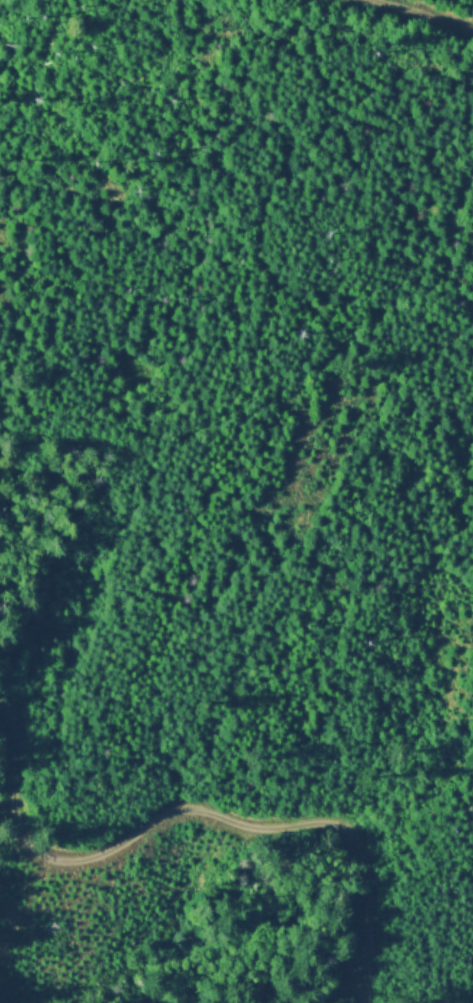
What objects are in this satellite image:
road: (239, 355)
road: (173, 863)

